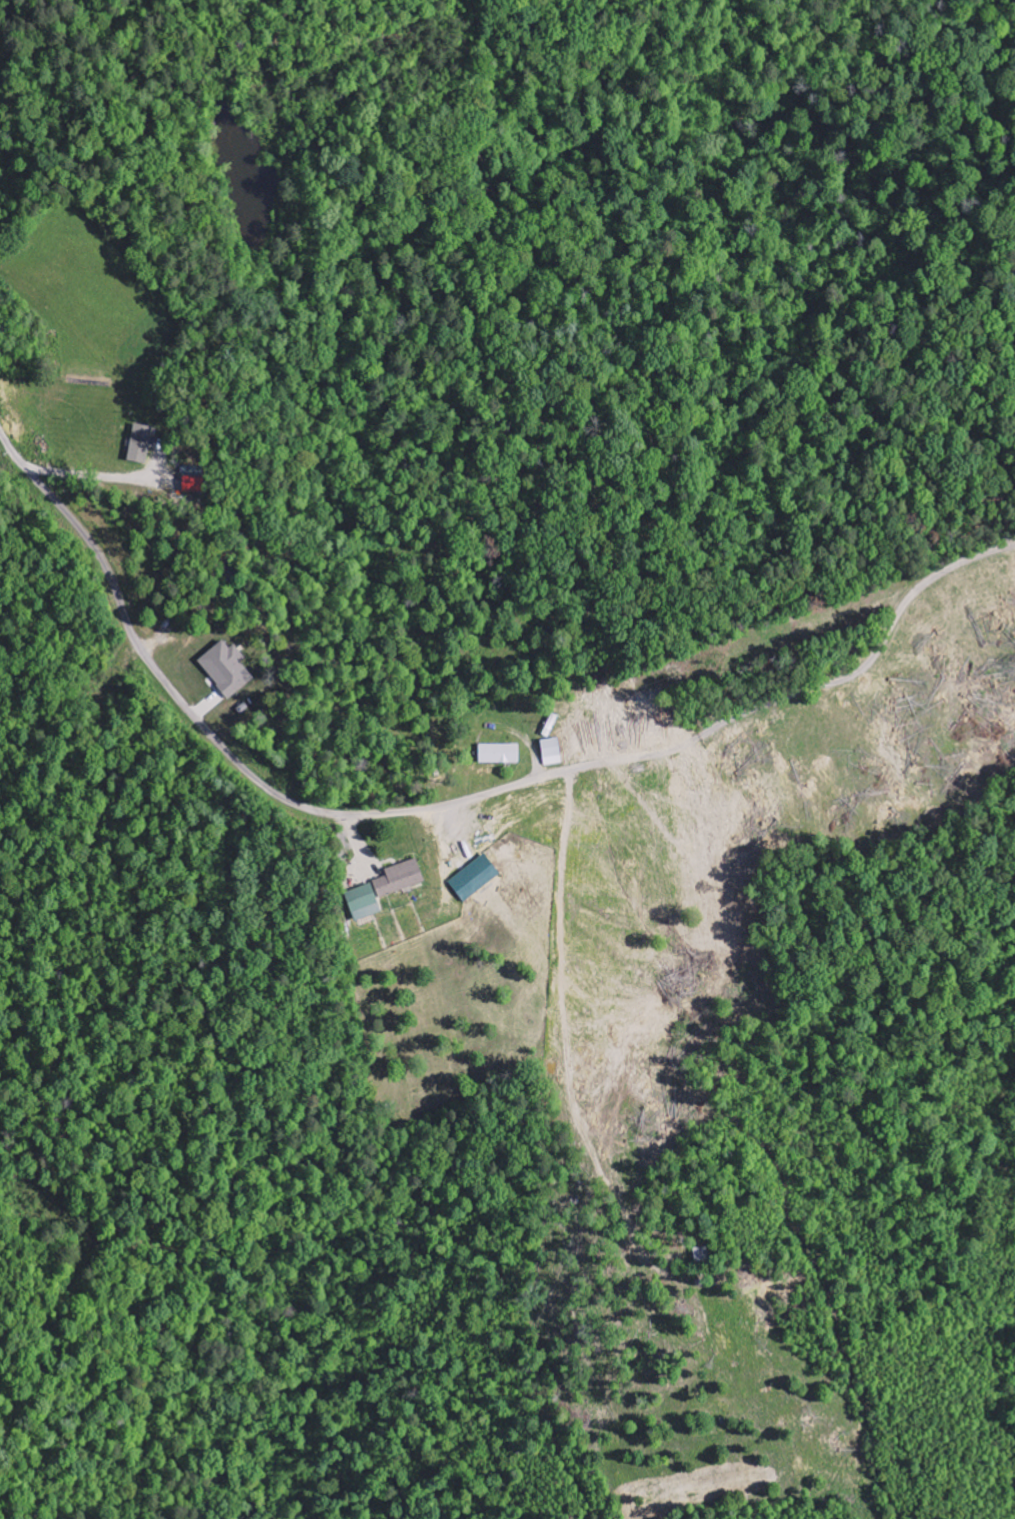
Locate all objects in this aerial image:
building: (141, 445)
building: (228, 669)
building: (552, 753)
building: (500, 755)
road: (450, 803)
building: (476, 879)
building: (403, 880)
building: (367, 904)

